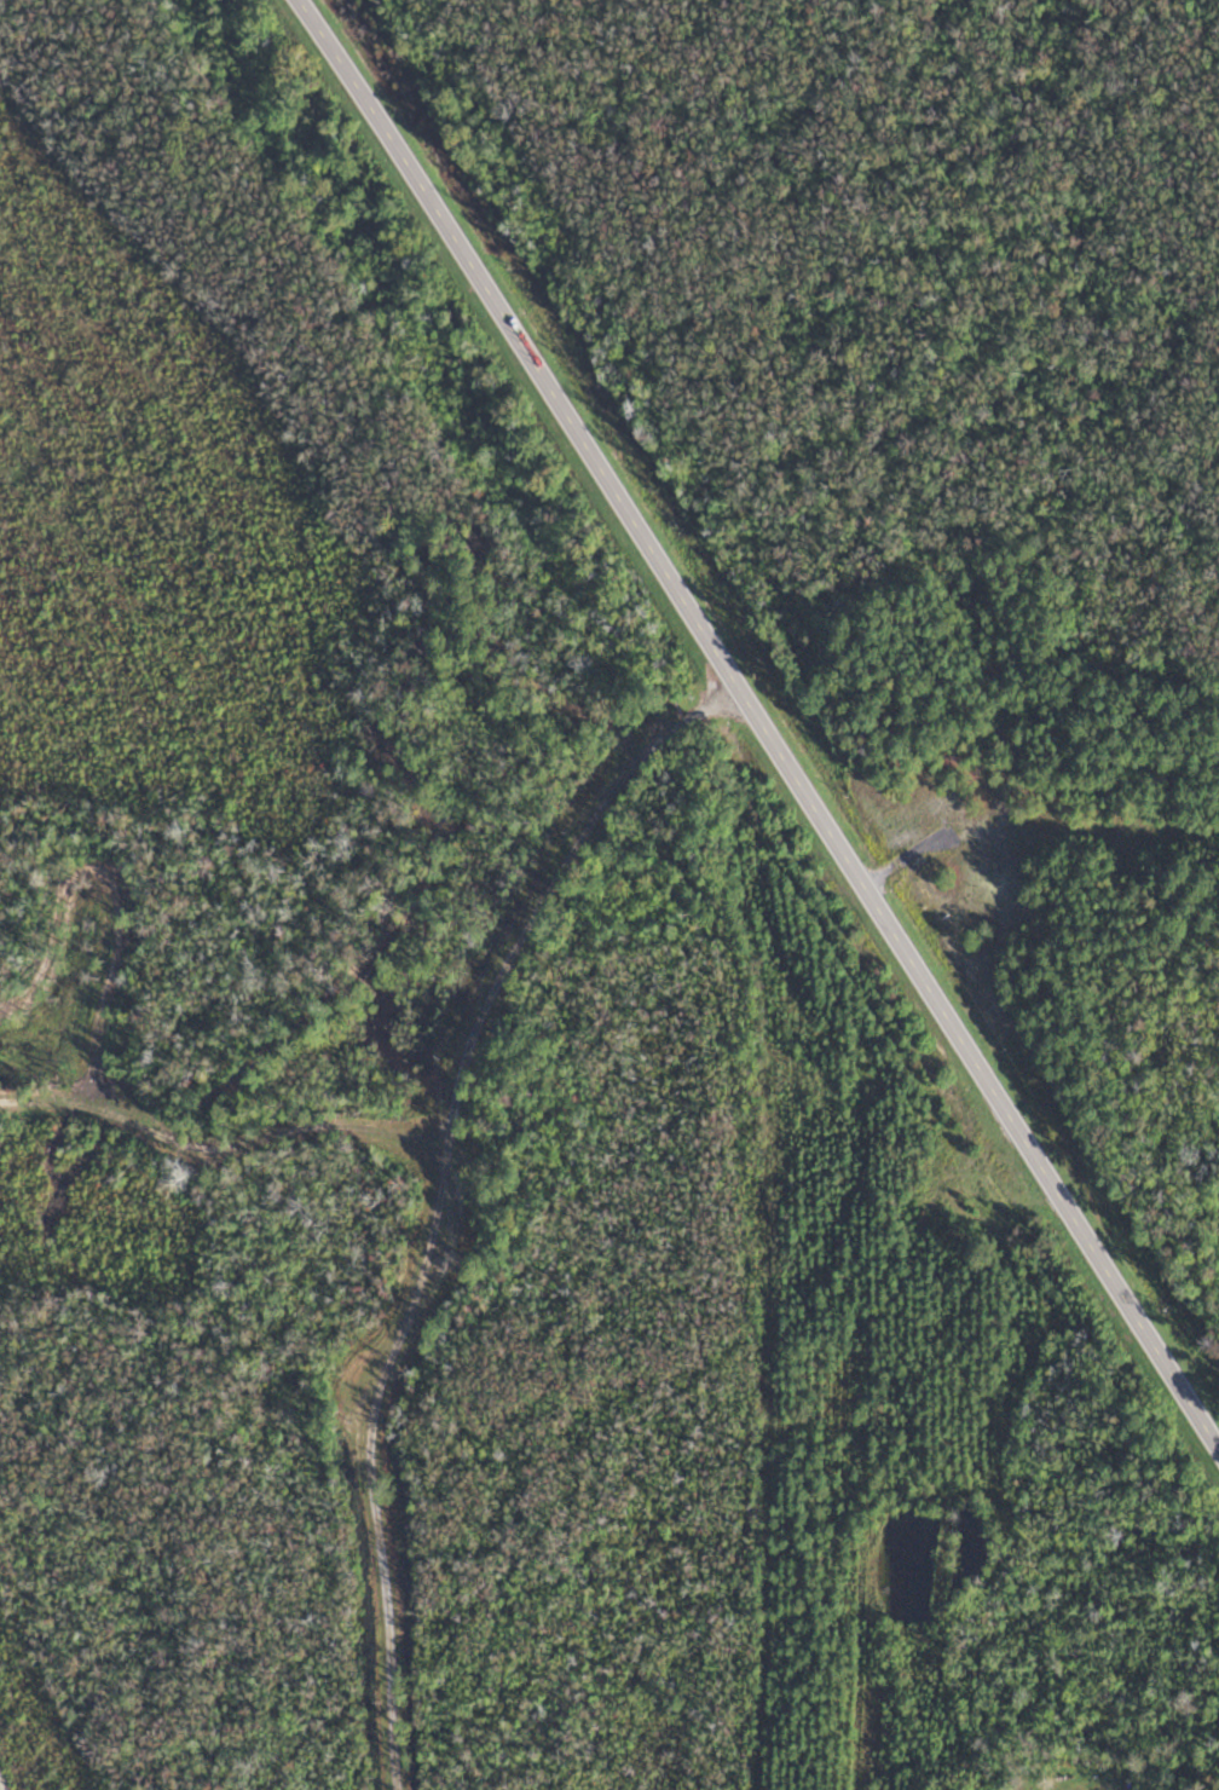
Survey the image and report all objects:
road: (764, 722)
road: (1090, 920)
road: (438, 1188)
building: (959, 1206)

